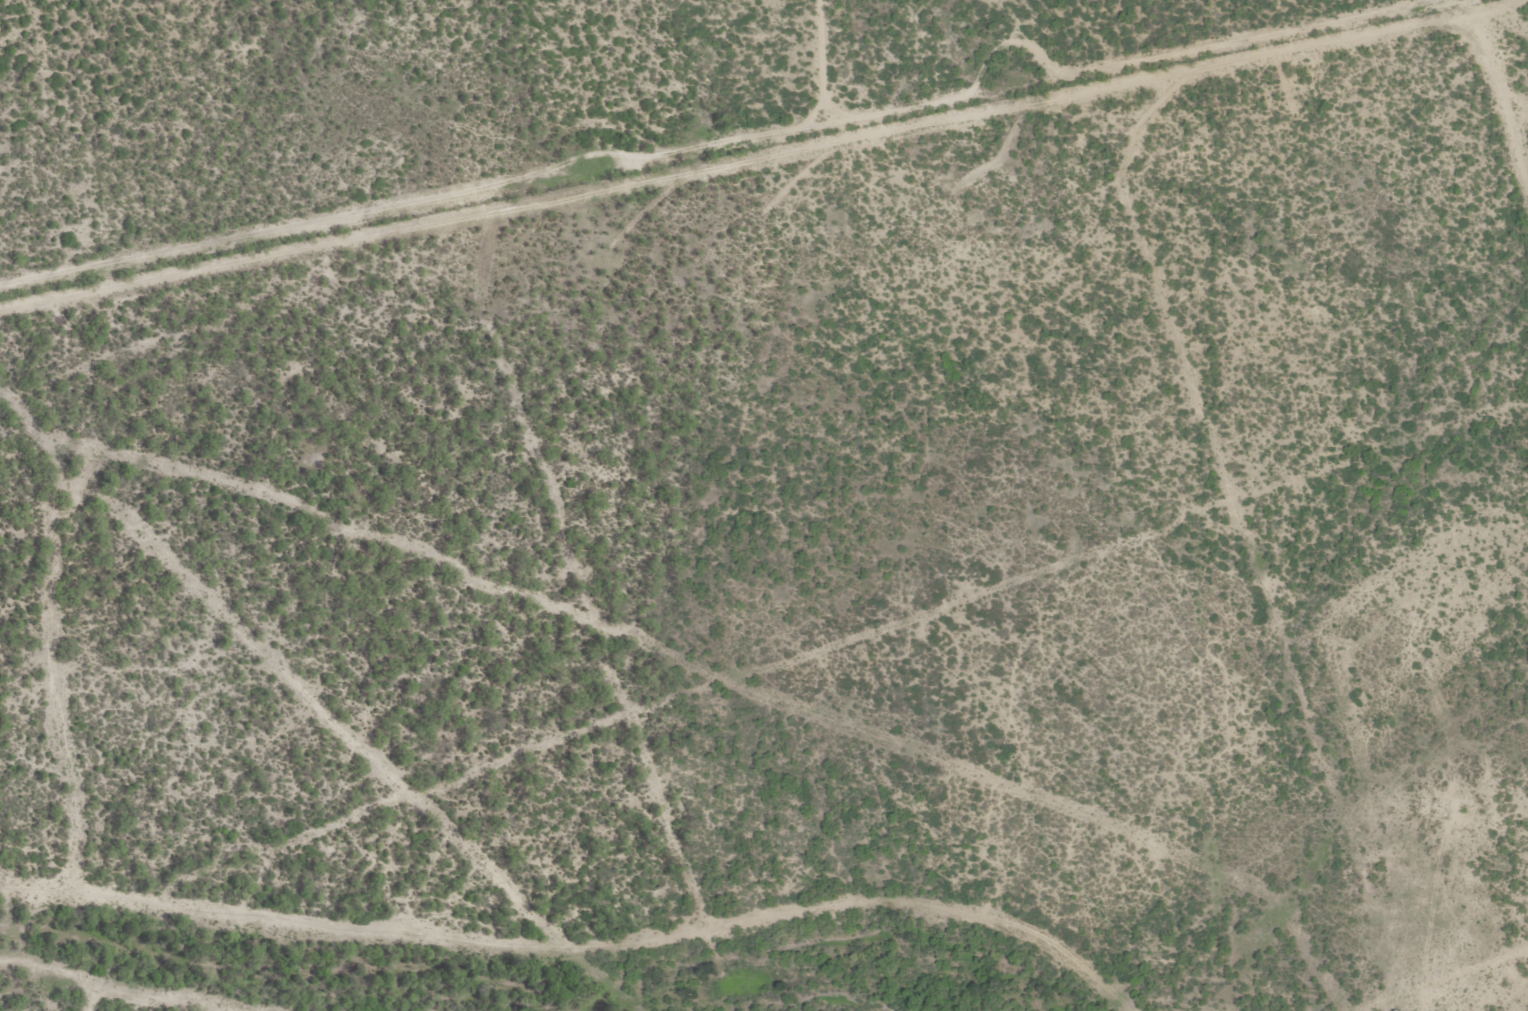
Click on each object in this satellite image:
road: (760, 157)

